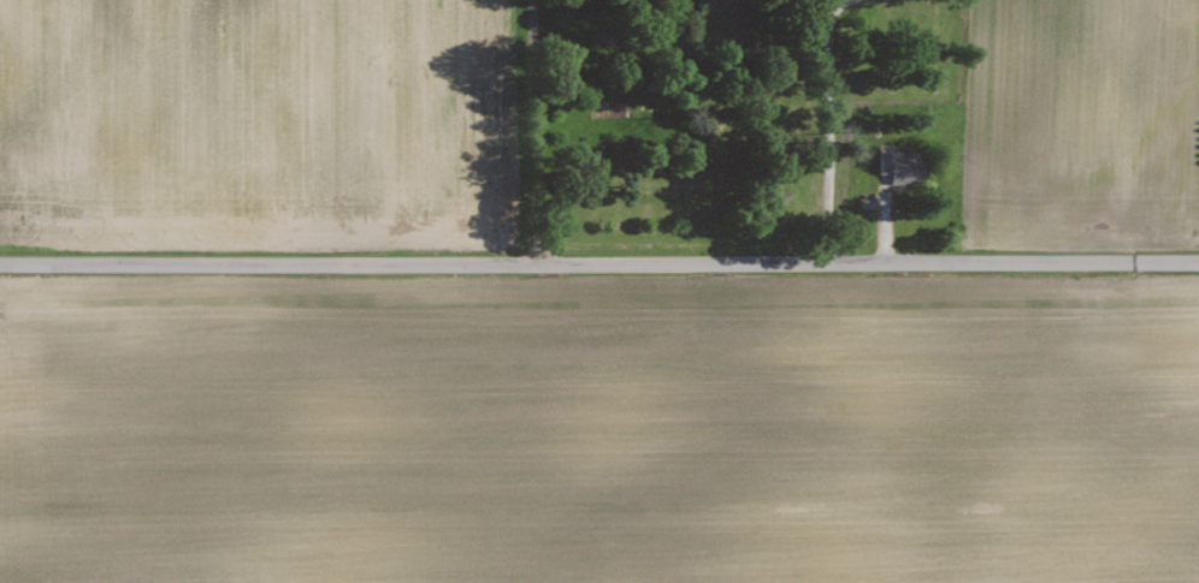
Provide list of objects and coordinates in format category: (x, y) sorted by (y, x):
road: (827, 125)
road: (532, 129)
building: (903, 166)
road: (598, 258)

